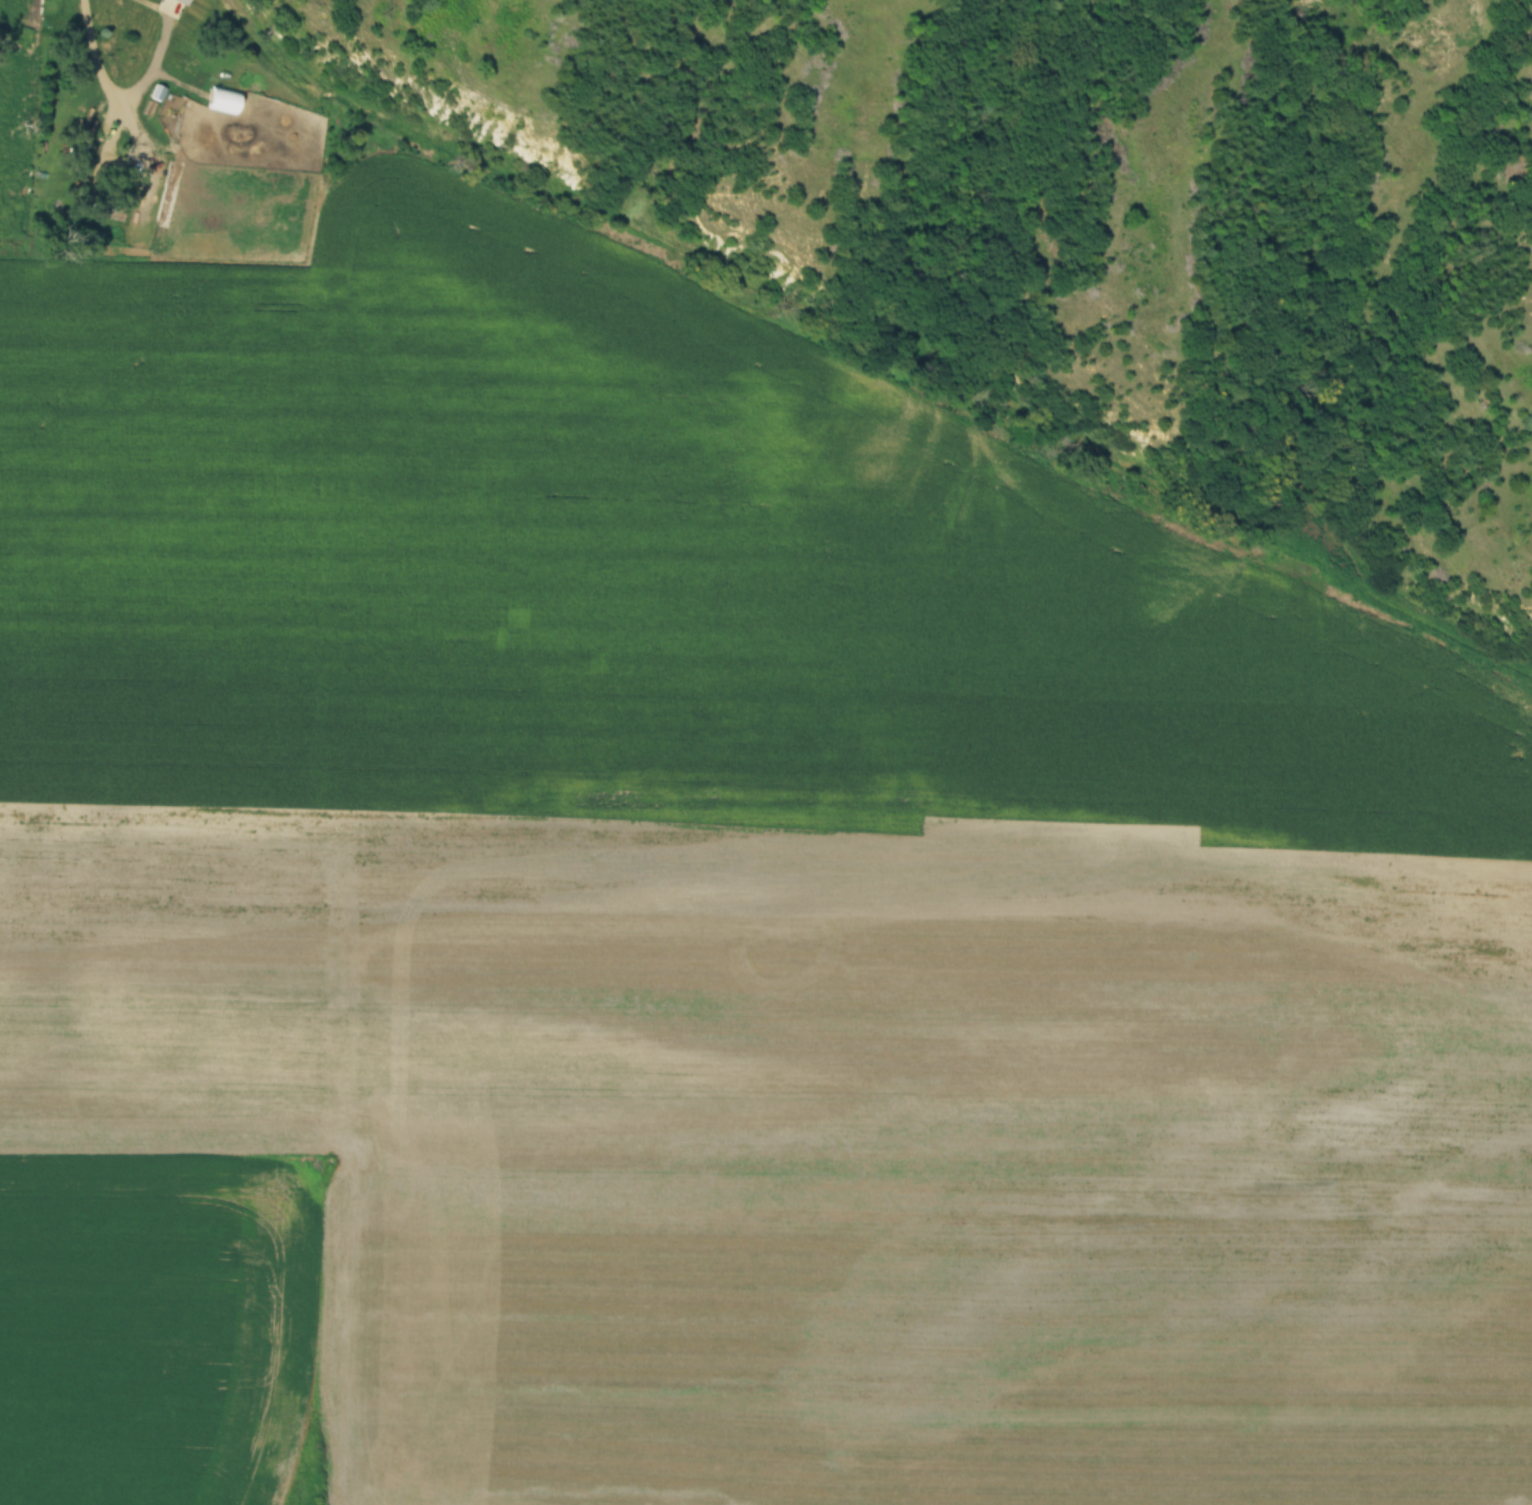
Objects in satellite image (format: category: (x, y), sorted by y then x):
road: (127, 91)
building: (223, 100)
building: (91, 113)

